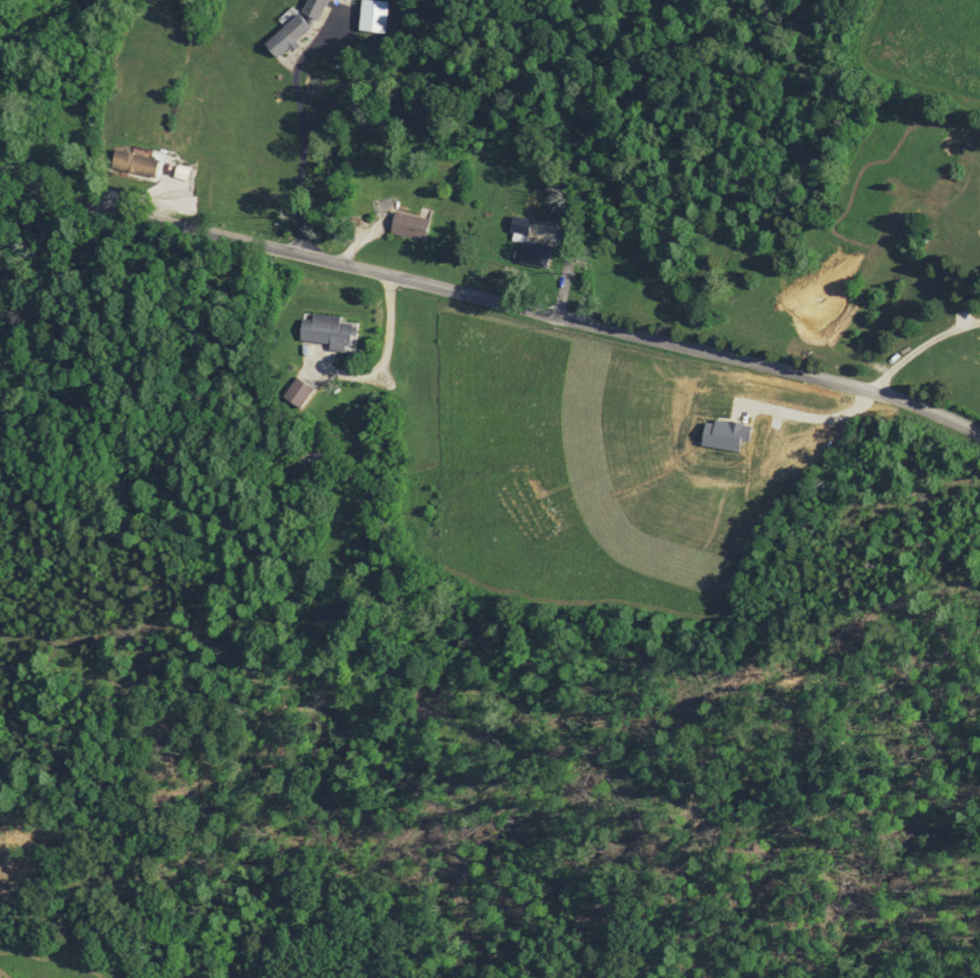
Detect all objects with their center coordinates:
building: (371, 15)
building: (133, 163)
building: (407, 224)
building: (518, 225)
building: (533, 253)
road: (489, 300)
building: (327, 329)
building: (296, 391)

